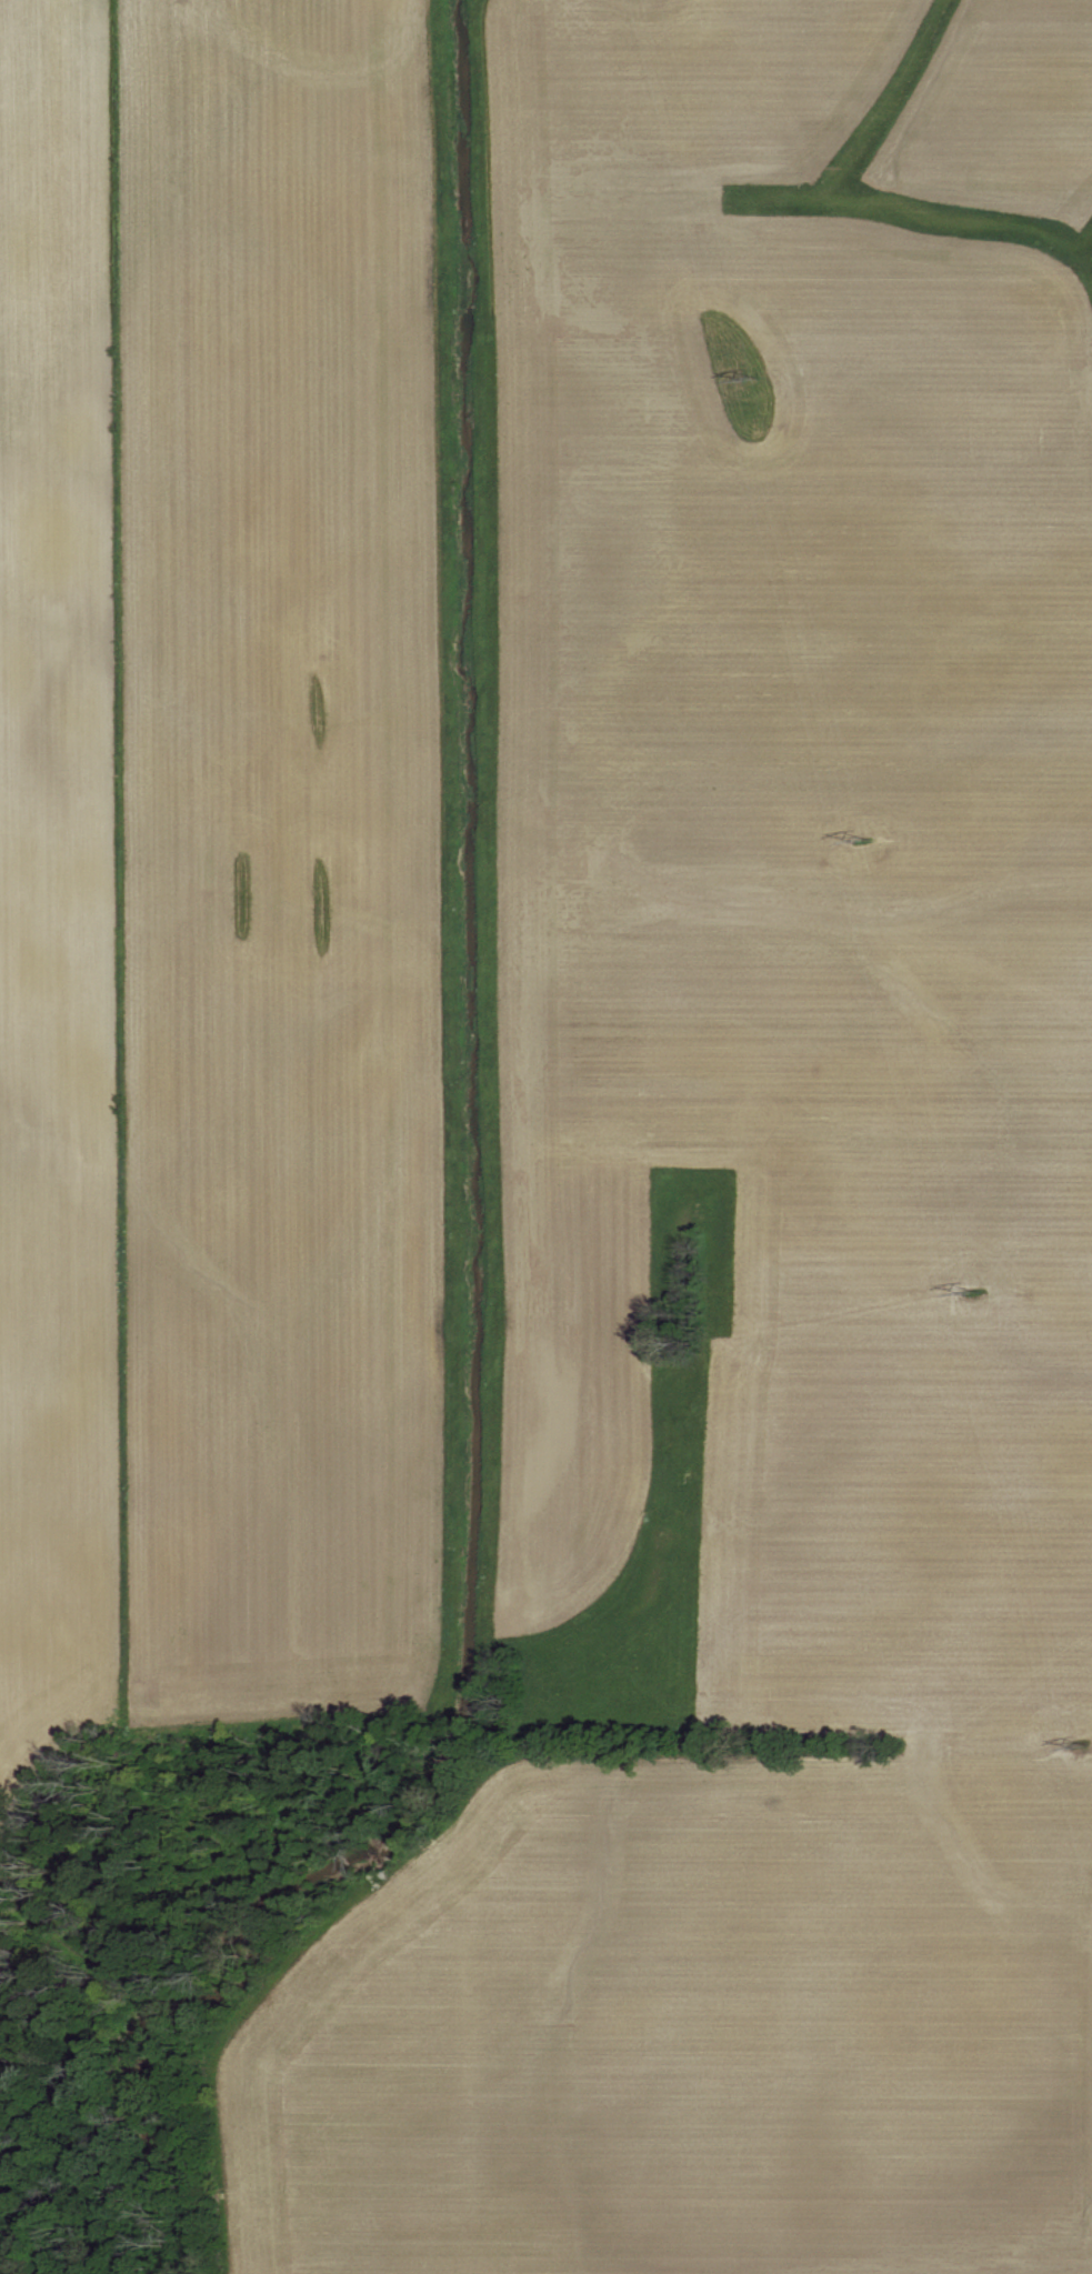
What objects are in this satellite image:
power tower: (750, 377)
power tower: (861, 841)
power tower: (972, 1290)
power tower: (1079, 1747)

